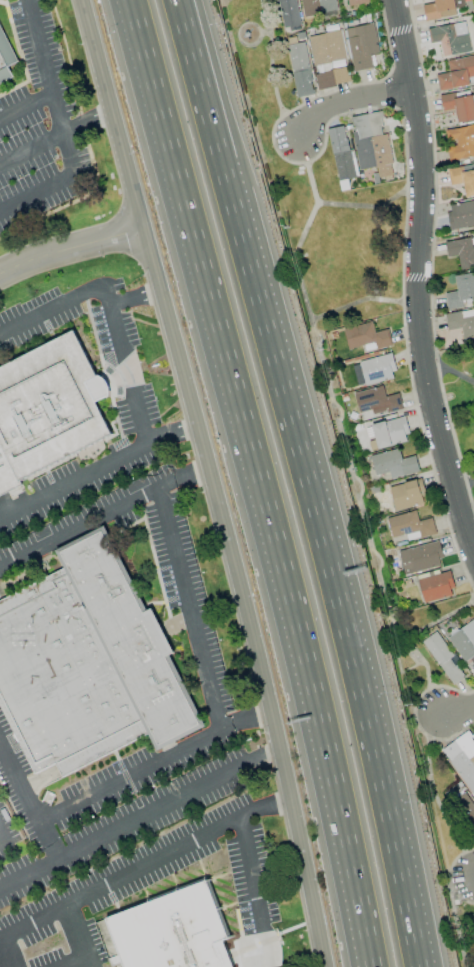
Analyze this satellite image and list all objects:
building: (356, 2)
building: (317, 6)
building: (440, 8)
building: (288, 14)
building: (450, 38)
building: (361, 45)
building: (5, 59)
building: (328, 59)
road: (46, 66)
building: (300, 69)
building: (457, 73)
road: (208, 81)
road: (200, 82)
road: (349, 104)
building: (458, 106)
road: (27, 107)
road: (88, 123)
building: (460, 141)
building: (371, 142)
road: (31, 146)
building: (340, 152)
building: (462, 178)
road: (56, 182)
park: (315, 189)
road: (370, 207)
building: (461, 214)
road: (70, 249)
building: (461, 251)
road: (416, 282)
building: (461, 291)
road: (134, 297)
road: (110, 312)
building: (461, 322)
building: (365, 337)
building: (376, 368)
road: (233, 376)
park: (463, 392)
building: (376, 400)
building: (47, 409)
building: (390, 432)
road: (168, 438)
road: (344, 440)
building: (394, 464)
road: (190, 471)
road: (212, 481)
road: (69, 483)
building: (405, 494)
road: (86, 521)
building: (410, 525)
building: (420, 557)
road: (326, 563)
building: (435, 587)
road: (187, 607)
building: (465, 643)
building: (443, 656)
building: (86, 666)
road: (459, 709)
road: (251, 715)
building: (473, 726)
building: (462, 759)
road: (135, 771)
road: (28, 802)
road: (137, 815)
road: (1, 839)
road: (353, 861)
road: (142, 865)
road: (255, 890)
road: (462, 920)
building: (171, 932)
road: (84, 938)
road: (4, 953)

